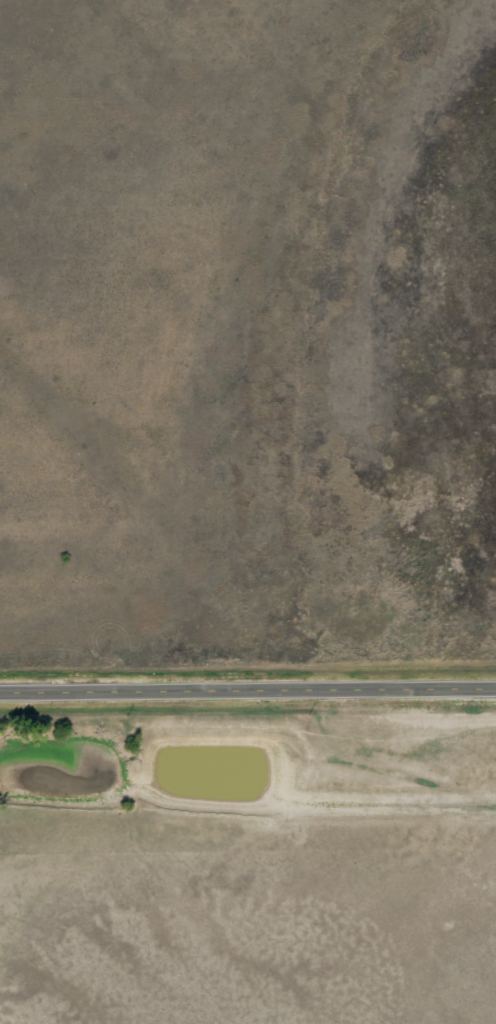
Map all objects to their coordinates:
road: (248, 697)

